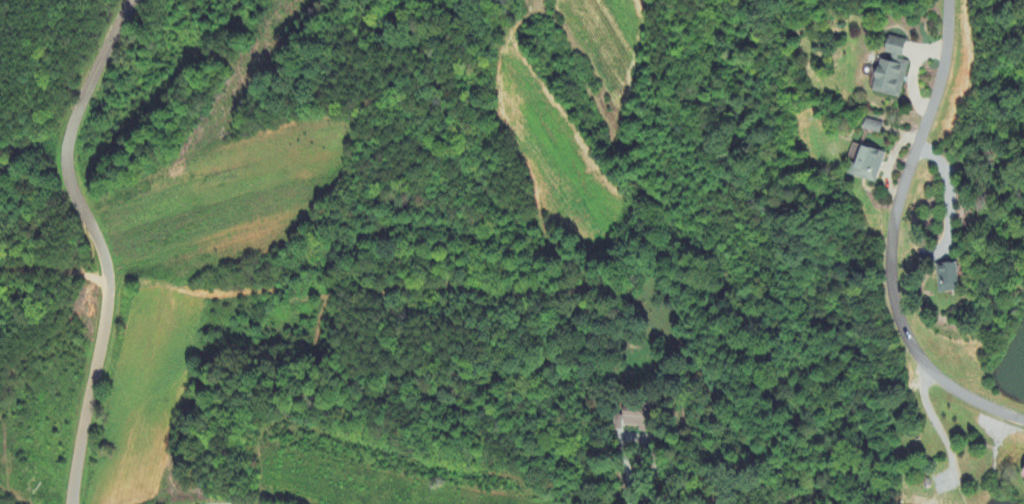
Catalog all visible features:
building: (889, 70)
building: (871, 127)
building: (865, 166)
road: (889, 242)
road: (93, 244)
building: (946, 278)
building: (631, 418)
building: (1021, 472)
road: (626, 473)

